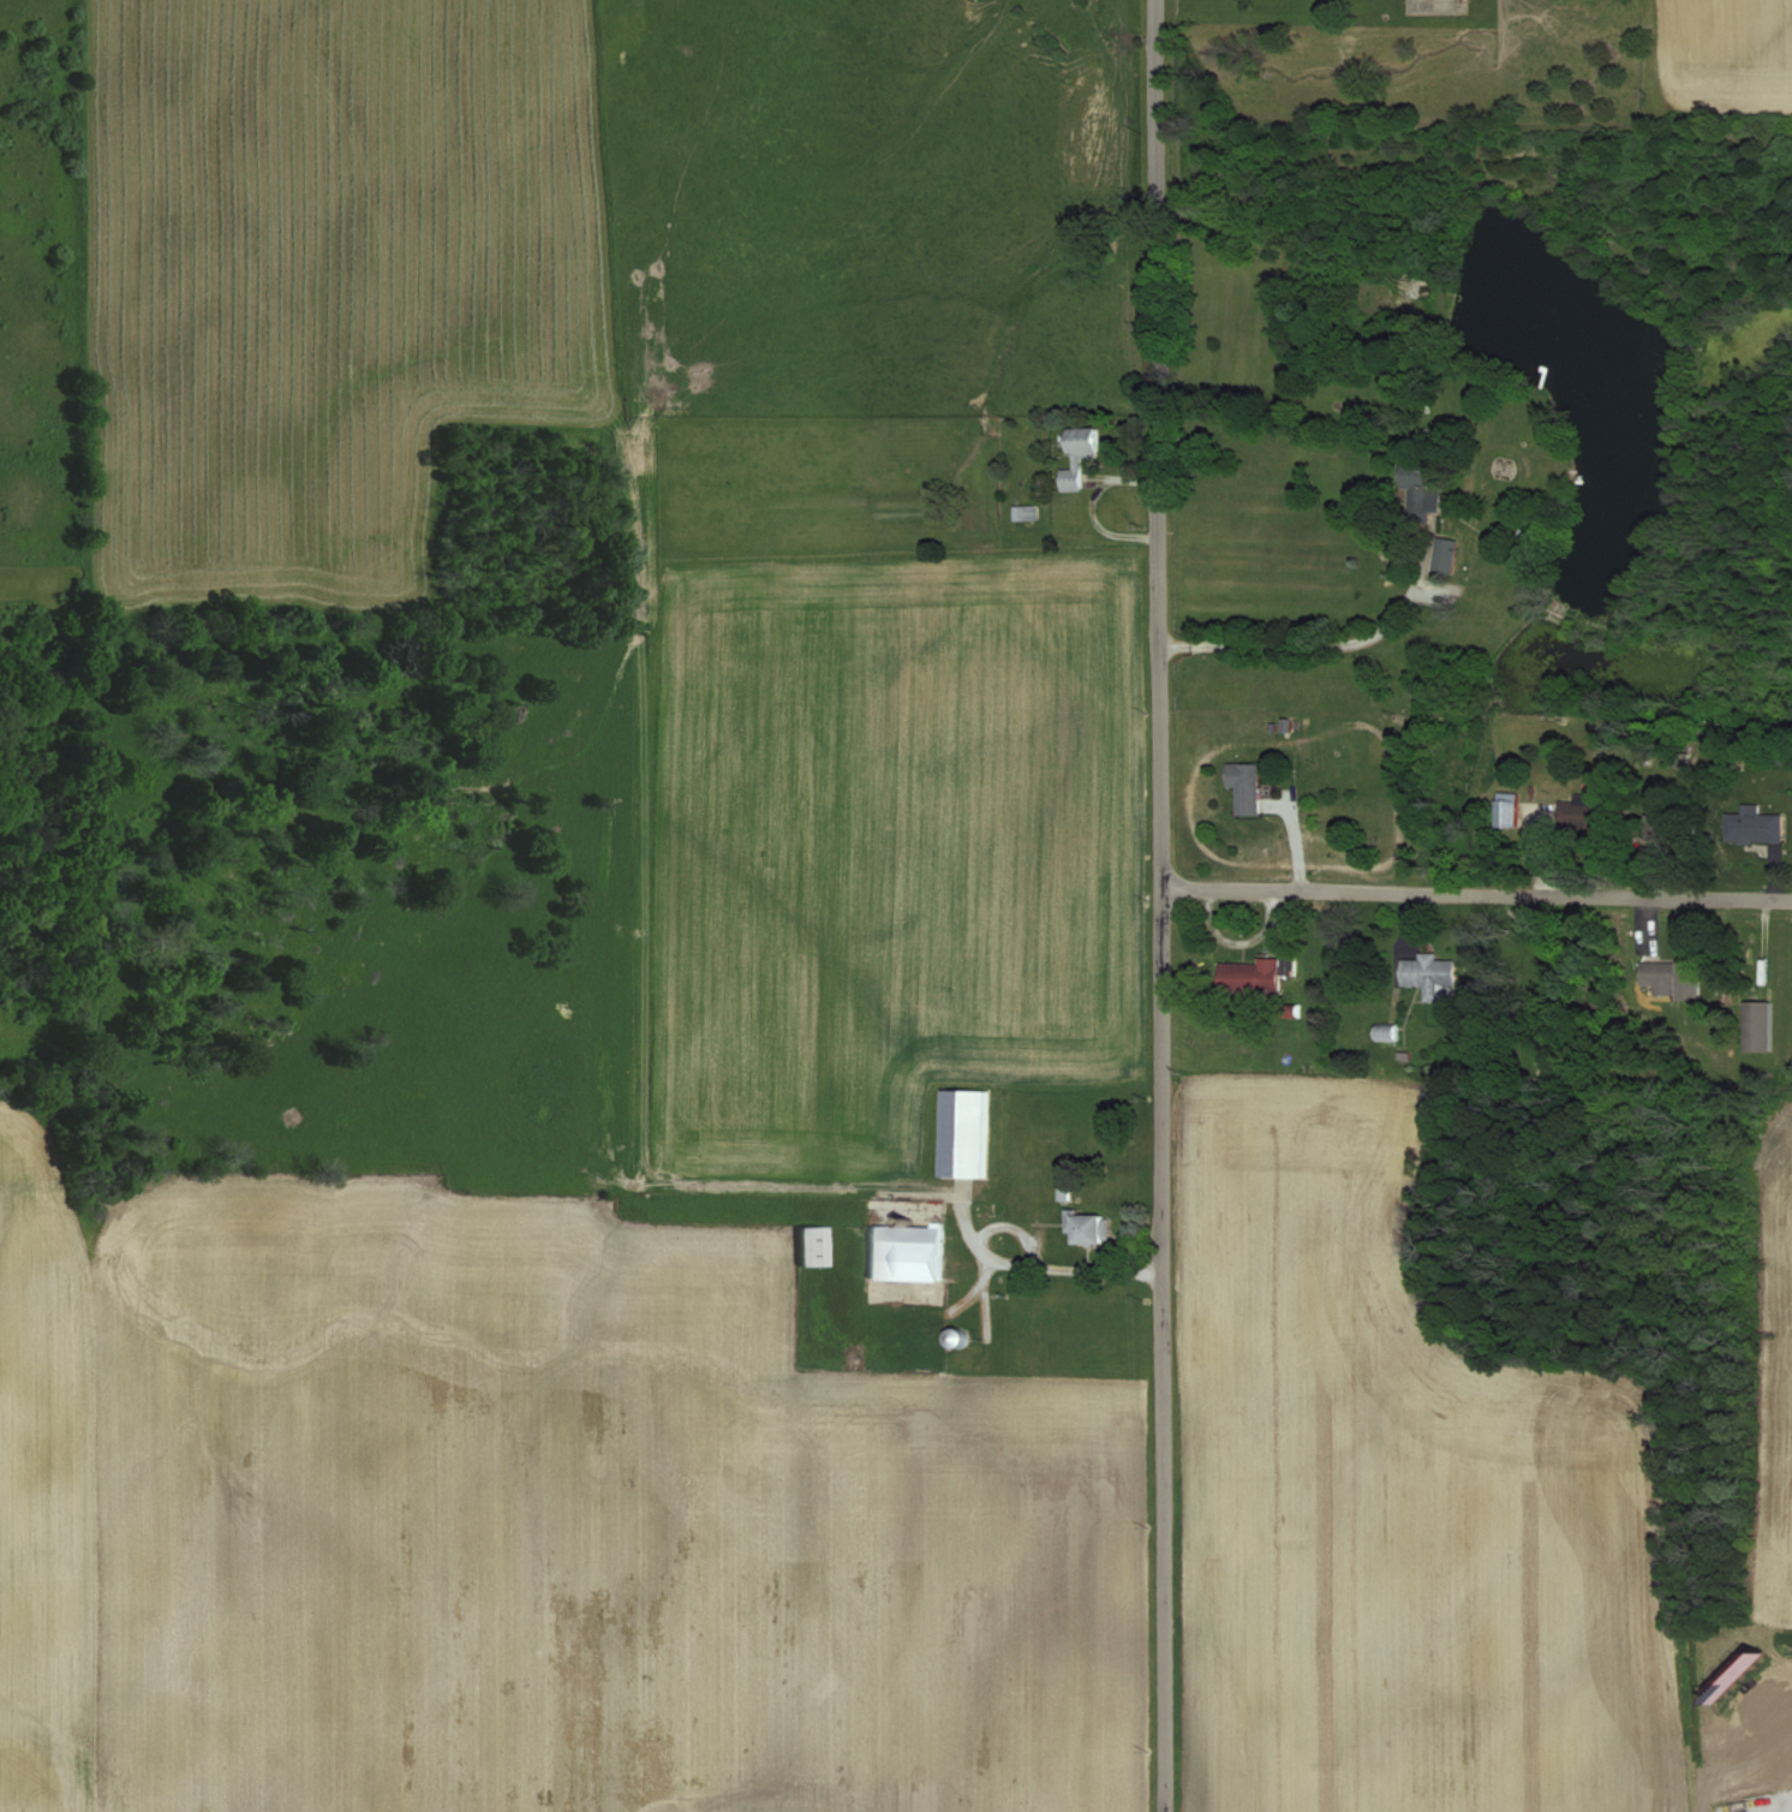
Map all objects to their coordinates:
building: (1079, 458)
building: (1418, 494)
building: (1445, 556)
road: (1307, 648)
building: (1242, 787)
building: (1505, 810)
building: (1755, 827)
road: (1477, 895)
road: (1163, 905)
building: (1427, 974)
building: (1248, 976)
building: (1669, 979)
building: (1755, 1026)
building: (961, 1134)
building: (1086, 1228)
building: (804, 1247)
building: (903, 1253)
road: (1033, 1253)
parking lot: (1760, 1782)
road: (1786, 1810)

